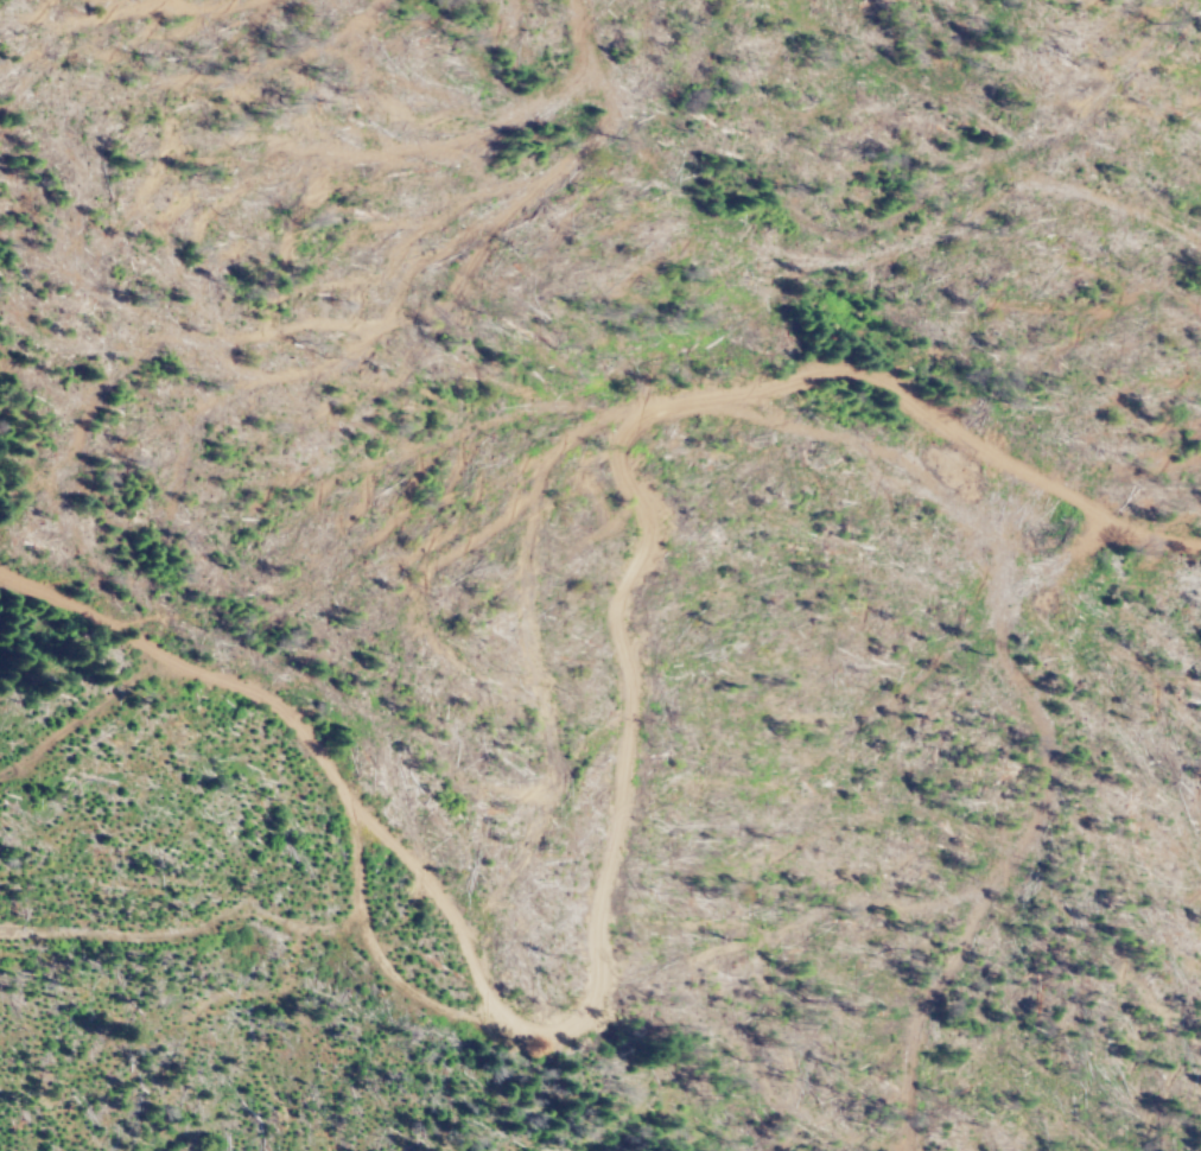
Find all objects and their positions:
road: (606, 794)

